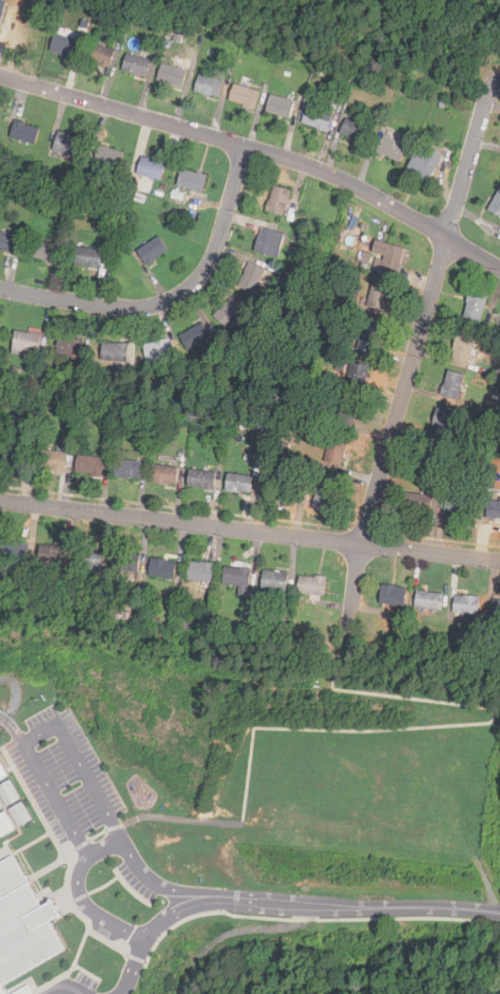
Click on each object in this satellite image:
building: (2, 9)
building: (64, 46)
park: (486, 53)
building: (100, 54)
building: (136, 64)
building: (171, 74)
building: (209, 85)
building: (244, 95)
building: (280, 106)
building: (317, 118)
building: (25, 131)
building: (354, 131)
building: (68, 143)
building: (392, 148)
road: (258, 149)
building: (108, 156)
building: (425, 164)
building: (151, 168)
building: (192, 180)
building: (278, 201)
building: (496, 203)
building: (7, 242)
building: (269, 242)
building: (42, 250)
building: (152, 250)
building: (388, 254)
building: (88, 256)
building: (252, 279)
building: (379, 295)
road: (172, 297)
building: (474, 307)
building: (229, 313)
building: (0, 329)
building: (368, 335)
building: (195, 336)
building: (26, 343)
building: (70, 347)
building: (463, 347)
building: (159, 350)
building: (115, 352)
road: (412, 360)
building: (357, 375)
building: (453, 384)
building: (348, 411)
building: (443, 422)
building: (336, 451)
building: (17, 456)
building: (53, 461)
building: (90, 466)
building: (127, 469)
building: (165, 475)
building: (201, 479)
building: (239, 483)
building: (323, 498)
building: (417, 503)
building: (457, 505)
building: (493, 509)
road: (250, 529)
building: (14, 550)
building: (54, 554)
building: (88, 559)
building: (127, 563)
building: (163, 568)
building: (200, 572)
building: (237, 579)
building: (274, 580)
building: (312, 585)
building: (392, 595)
building: (429, 601)
building: (466, 605)
building: (495, 609)
road: (435, 726)
road: (29, 739)
building: (2, 772)
building: (8, 792)
park: (365, 797)
building: (0, 806)
building: (19, 814)
road: (176, 819)
building: (5, 824)
road: (114, 826)
road: (96, 834)
road: (80, 845)
road: (103, 847)
road: (80, 898)
road: (286, 904)
road: (77, 911)
road: (313, 920)
building: (23, 924)
road: (138, 957)

